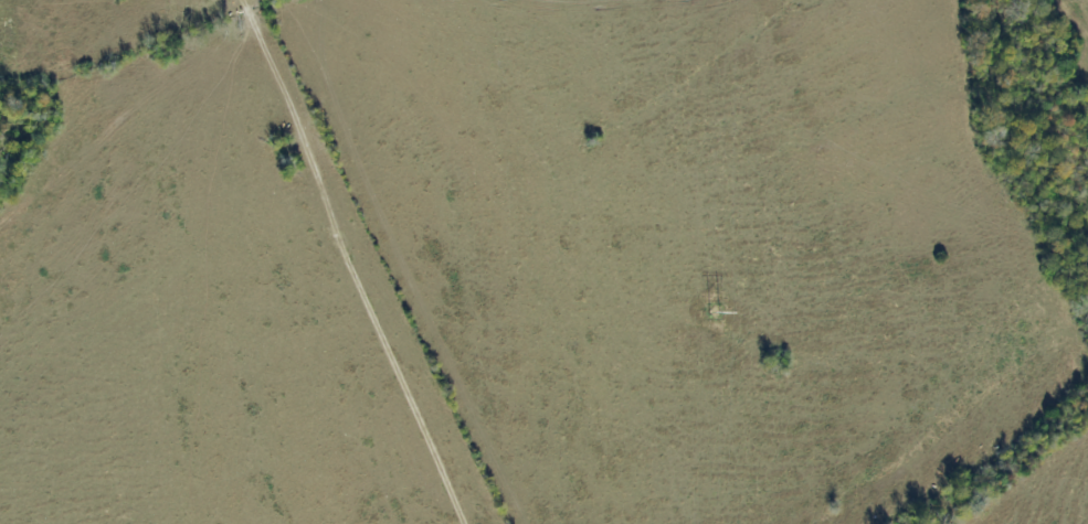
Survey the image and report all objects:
power tower: (709, 311)

